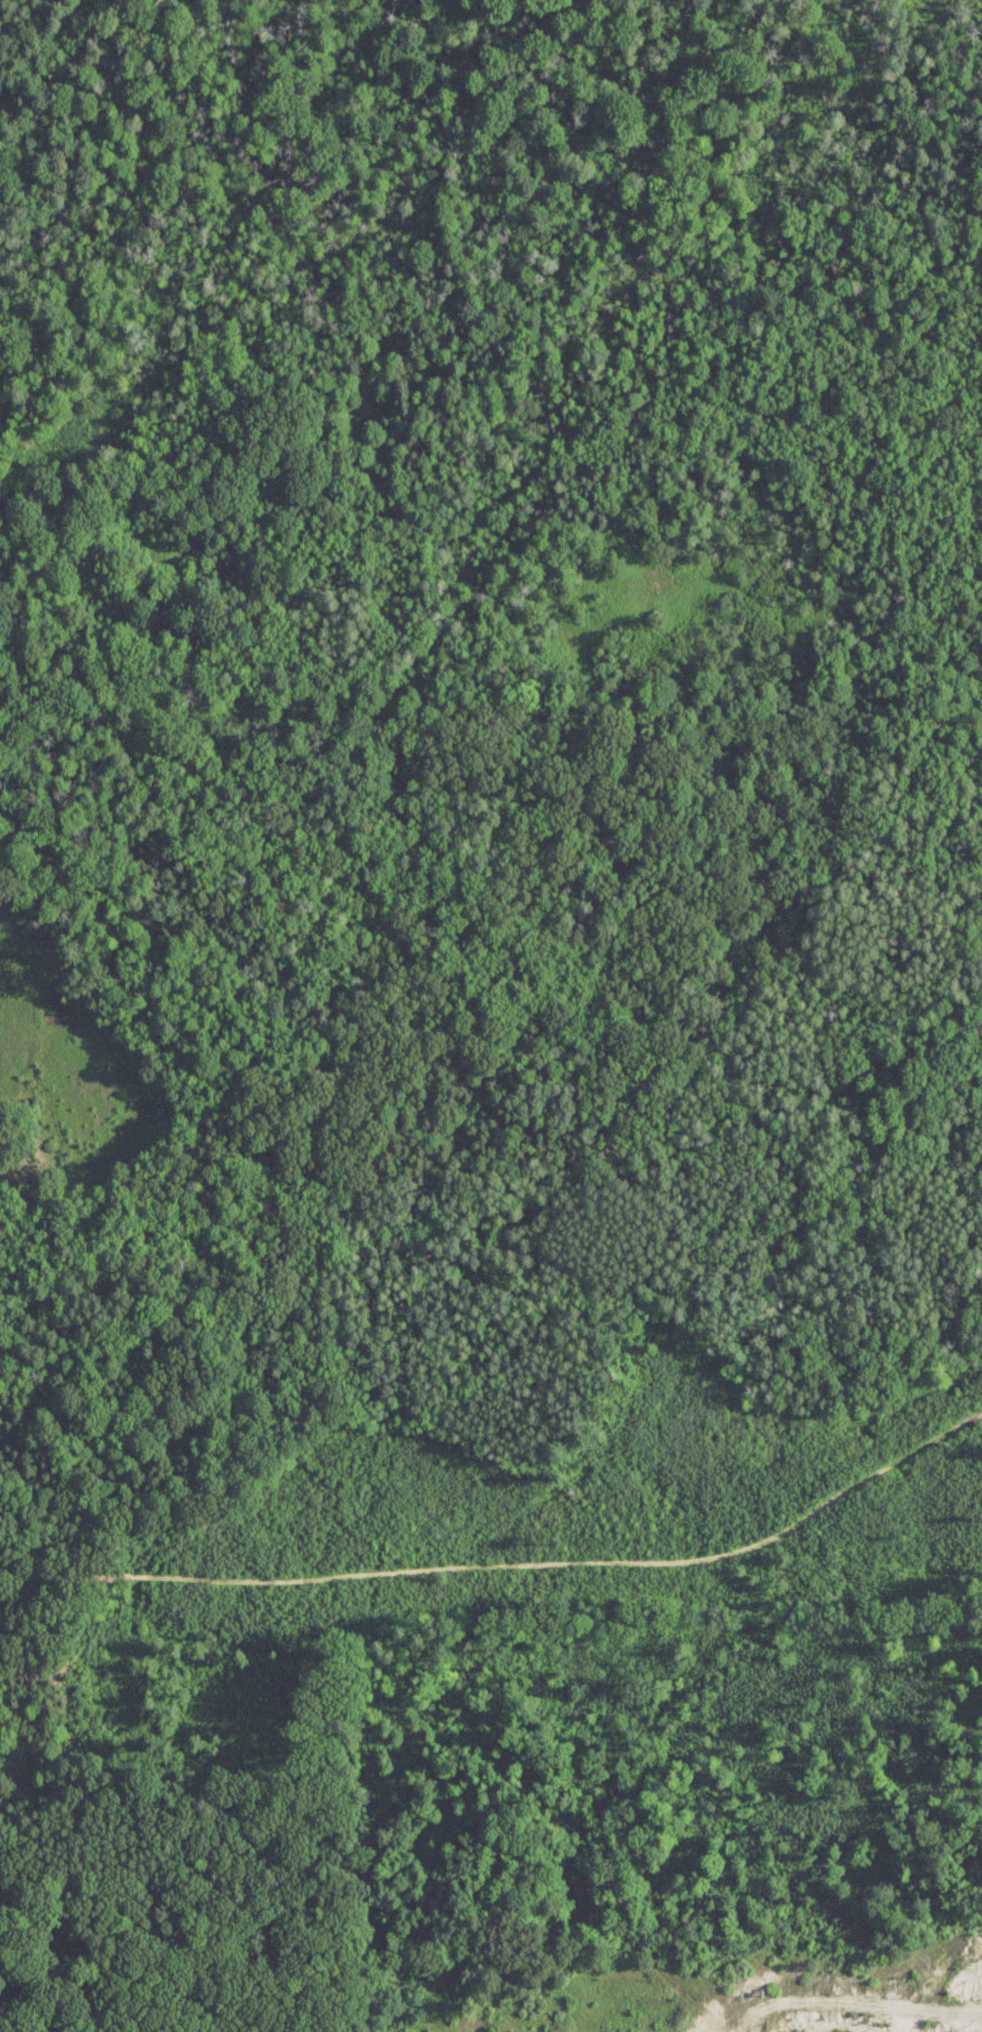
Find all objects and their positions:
road: (500, 1568)

